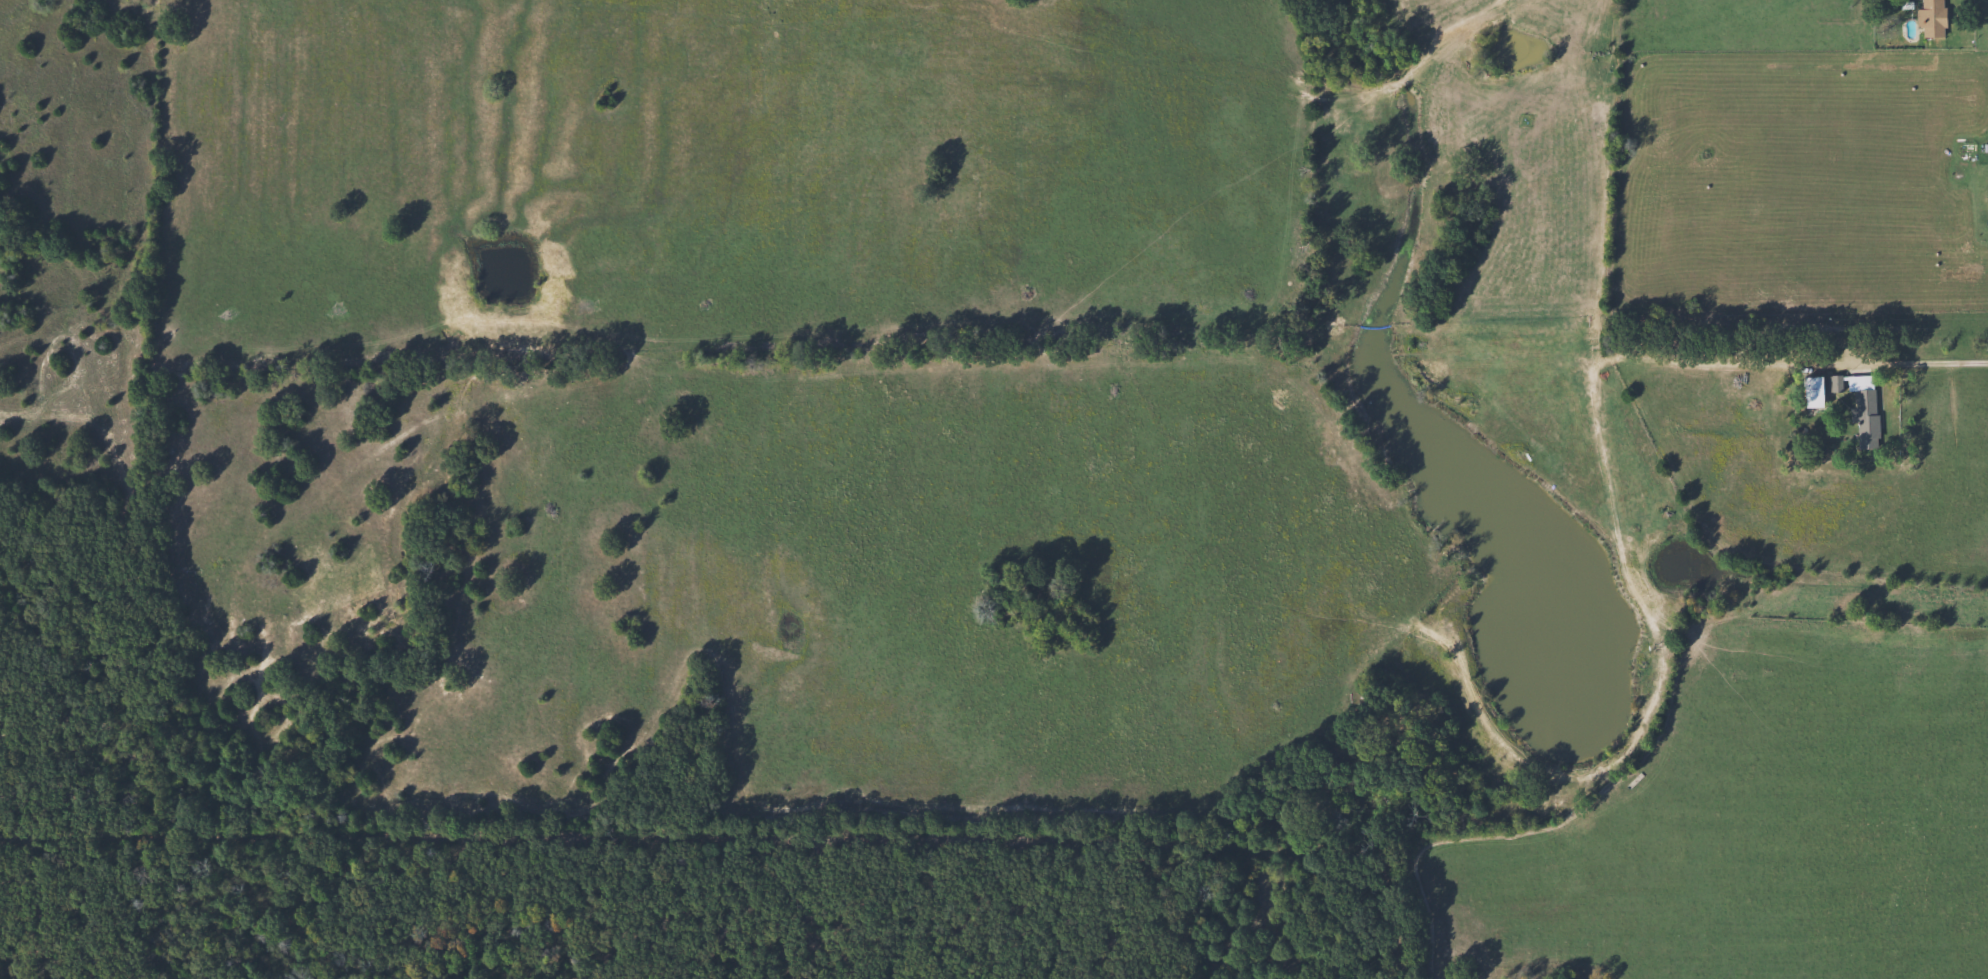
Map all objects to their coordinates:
building: (1929, 20)
road: (1941, 365)
building: (1833, 382)
building: (1810, 391)
building: (1862, 409)
road: (1958, 599)

